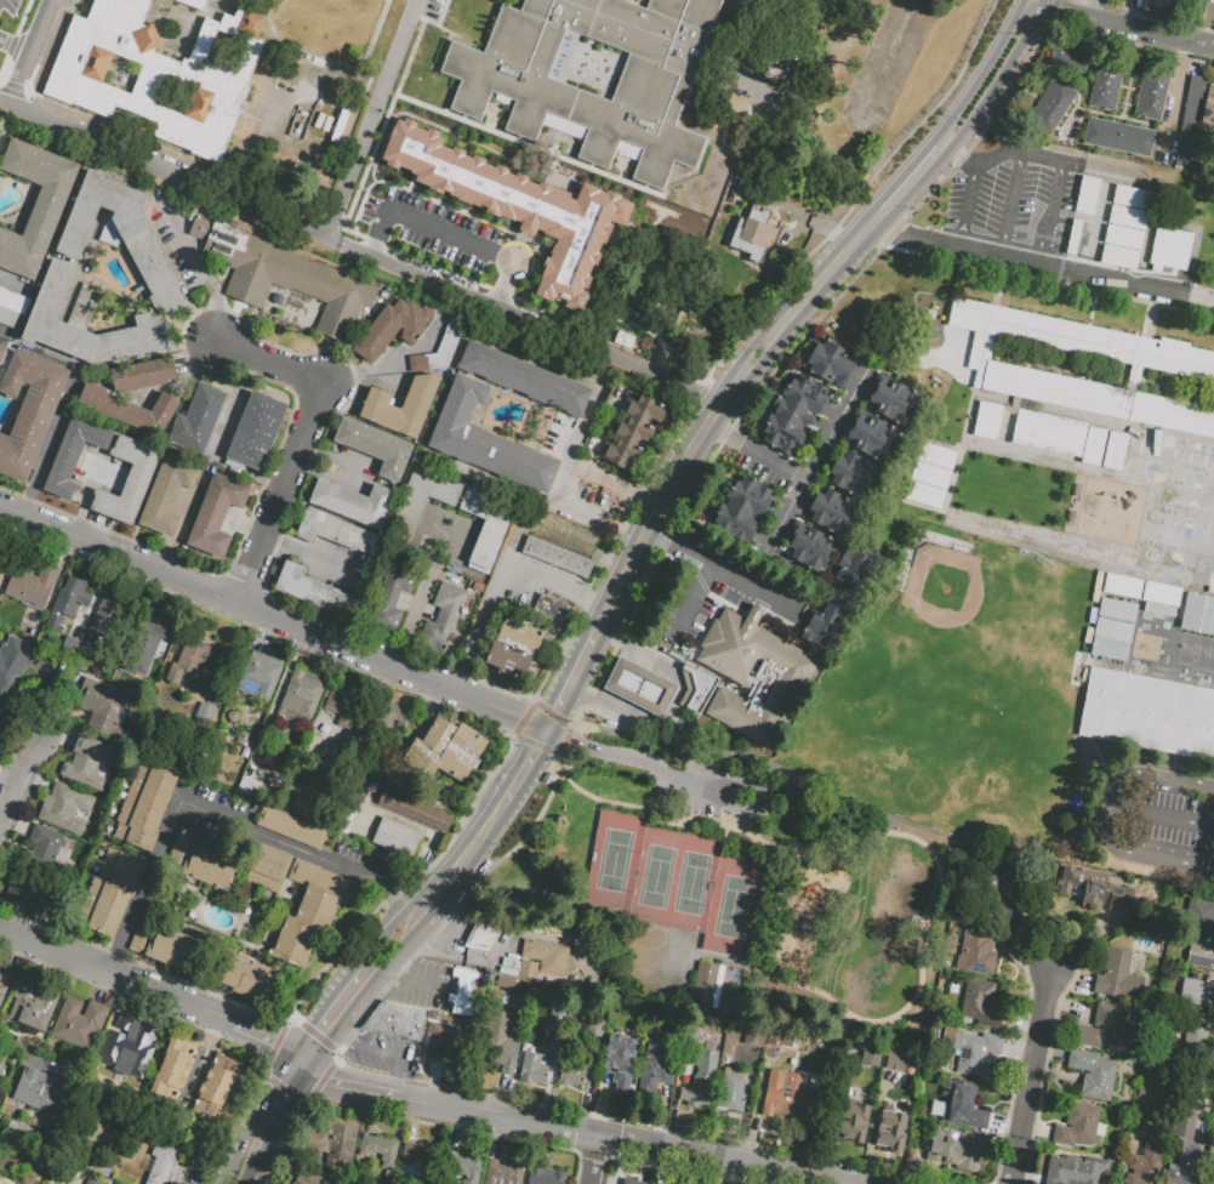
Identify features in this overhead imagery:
building: (216, 0)
building: (1196, 0)
building: (193, 4)
road: (1038, 4)
building: (1167, 7)
parking lot: (433, 11)
building: (689, 11)
road: (200, 15)
road: (1125, 25)
road: (374, 36)
road: (457, 39)
building: (660, 42)
road: (6, 47)
road: (27, 51)
road: (18, 53)
road: (445, 55)
road: (310, 56)
building: (1070, 56)
building: (156, 72)
road: (985, 75)
road: (997, 85)
building: (1107, 89)
road: (1175, 92)
building: (1155, 96)
road: (409, 98)
building: (575, 98)
building: (1210, 103)
road: (391, 106)
building: (1053, 108)
road: (376, 119)
building: (1191, 124)
building: (0, 133)
building: (1121, 140)
road: (730, 144)
road: (371, 155)
road: (962, 156)
road: (1024, 158)
road: (165, 170)
road: (910, 181)
parking lot: (427, 183)
road: (639, 188)
parking lot: (1016, 195)
building: (1090, 198)
road: (974, 199)
road: (857, 201)
building: (515, 205)
building: (36, 207)
road: (1013, 207)
building: (129, 216)
road: (1054, 216)
road: (340, 222)
building: (198, 228)
building: (1128, 229)
road: (452, 234)
building: (756, 238)
building: (1076, 239)
building: (1173, 251)
road: (414, 252)
parking lot: (178, 254)
road: (1041, 266)
road: (203, 272)
building: (156, 275)
building: (286, 279)
building: (53, 295)
building: (12, 309)
road: (525, 320)
building: (391, 328)
building: (1075, 341)
building: (133, 342)
building: (626, 342)
building: (439, 351)
building: (1, 353)
building: (834, 358)
building: (826, 374)
building: (142, 375)
building: (523, 380)
building: (807, 388)
building: (897, 394)
building: (1098, 398)
building: (802, 400)
road: (718, 405)
building: (377, 406)
building: (129, 409)
building: (888, 409)
building: (791, 410)
building: (28, 411)
building: (987, 419)
building: (199, 422)
building: (783, 425)
parking lot: (538, 431)
building: (876, 432)
building: (1049, 432)
building: (634, 433)
building: (257, 436)
road: (303, 439)
building: (485, 442)
building: (779, 442)
building: (865, 445)
building: (1093, 445)
road: (46, 449)
building: (375, 449)
building: (1115, 450)
road: (756, 452)
building: (73, 455)
road: (570, 459)
building: (855, 468)
road: (587, 469)
building: (930, 474)
building: (129, 480)
building: (847, 483)
building: (753, 491)
building: (167, 496)
building: (422, 499)
parking lot: (593, 500)
building: (353, 503)
building: (833, 505)
road: (560, 506)
building: (745, 506)
park: (1192, 506)
road: (792, 507)
building: (217, 516)
building: (826, 519)
building: (485, 523)
building: (731, 525)
building: (335, 533)
road: (655, 535)
park: (1213, 541)
building: (816, 542)
road: (677, 547)
building: (553, 557)
building: (808, 557)
building: (5, 562)
building: (844, 568)
building: (861, 575)
road: (547, 580)
parking lot: (531, 582)
road: (742, 582)
building: (33, 587)
building: (1123, 587)
building: (309, 588)
parking lot: (706, 591)
building: (1161, 596)
road: (417, 597)
building: (393, 598)
building: (69, 599)
road: (598, 600)
road: (691, 603)
park: (957, 605)
building: (553, 613)
building: (1197, 613)
park: (1208, 615)
road: (273, 616)
building: (445, 619)
building: (1115, 621)
building: (108, 622)
building: (816, 625)
road: (479, 626)
building: (149, 627)
building: (830, 632)
building: (523, 637)
road: (619, 641)
park: (1204, 650)
building: (142, 654)
building: (15, 659)
building: (188, 661)
building: (512, 661)
building: (263, 676)
building: (751, 677)
road: (623, 678)
road: (570, 679)
building: (638, 685)
gas station: (638, 685)
building: (694, 690)
building: (304, 695)
road: (591, 699)
building: (103, 706)
building: (349, 707)
building: (1147, 713)
road: (59, 715)
building: (206, 715)
road: (562, 722)
building: (392, 724)
road: (23, 727)
traffic signals: (546, 730)
park: (942, 735)
building: (440, 736)
road: (56, 740)
building: (246, 742)
building: (471, 744)
road: (565, 744)
road: (12, 753)
building: (424, 758)
building: (86, 763)
road: (648, 763)
building: (349, 764)
building: (458, 765)
road: (525, 772)
road: (1125, 774)
road: (7, 782)
road: (34, 782)
road: (16, 785)
building: (250, 789)
parking lot: (695, 791)
road: (844, 801)
building: (64, 807)
building: (146, 808)
building: (416, 812)
parking lot: (220, 816)
road: (220, 818)
parking lot: (1165, 819)
road: (693, 820)
road: (1163, 820)
road: (17, 826)
road: (890, 826)
building: (286, 827)
building: (397, 839)
road: (763, 844)
building: (178, 847)
building: (49, 850)
road: (1162, 856)
parking lot: (365, 860)
road: (462, 865)
building: (212, 867)
building: (268, 869)
road: (939, 870)
park: (728, 878)
building: (1094, 888)
building: (28, 894)
building: (112, 895)
building: (997, 900)
building: (313, 912)
building: (1199, 915)
road: (444, 916)
road: (532, 937)
road: (383, 938)
building: (483, 938)
road: (1048, 939)
parking lot: (452, 943)
building: (166, 945)
building: (604, 949)
road: (446, 951)
building: (976, 952)
building: (1201, 954)
building: (548, 958)
road: (96, 967)
building: (525, 967)
road: (1213, 974)
road: (393, 975)
building: (249, 978)
building: (1117, 978)
building: (4, 981)
road: (423, 986)
building: (707, 986)
parking lot: (423, 987)
building: (957, 987)
road: (364, 992)
building: (1195, 992)
building: (462, 995)
building: (30, 1003)
building: (981, 1007)
road: (323, 1012)
road: (205, 1014)
building: (435, 1015)
building: (398, 1021)
building: (79, 1023)
traffic signals: (313, 1025)
building: (1101, 1028)
building: (598, 1030)
building: (752, 1037)
building: (1198, 1037)
road: (255, 1038)
road: (347, 1038)
building: (783, 1041)
building: (501, 1043)
building: (126, 1046)
traffic signals: (270, 1046)
building: (448, 1046)
road: (27, 1051)
building: (178, 1053)
building: (971, 1053)
parking lot: (386, 1054)
road: (387, 1055)
road: (205, 1058)
building: (1, 1059)
building: (871, 1059)
building: (622, 1063)
building: (895, 1063)
building: (662, 1064)
road: (300, 1065)
road: (200, 1066)
building: (540, 1070)
building: (222, 1071)
building: (574, 1074)
building: (1092, 1074)
road: (1031, 1076)
building: (167, 1081)
traffic signals: (326, 1081)
road: (403, 1085)
road: (340, 1086)
building: (41, 1089)
building: (734, 1092)
road: (388, 1094)
building: (699, 1094)
building: (786, 1099)
building: (209, 1100)
traffic signals: (291, 1100)
road: (192, 1103)
building: (961, 1108)
road: (370, 1112)
road: (281, 1116)
road: (256, 1120)
building: (1213, 1121)
building: (855, 1123)
building: (1186, 1126)
building: (1078, 1127)
building: (889, 1133)
building: (99, 1135)
building: (320, 1135)
road: (616, 1142)
building: (341, 1148)
building: (378, 1148)
building: (956, 1151)
building: (1210, 1151)
building: (421, 1155)
building: (163, 1160)
road: (591, 1161)
building: (1145, 1163)
building: (462, 1167)
building: (1181, 1167)
building: (1075, 1169)
road: (250, 1171)
building: (502, 1172)
building: (545, 1176)
building: (307, 1178)
building: (89, 1180)
road: (243, 1182)
building: (632, 1182)

